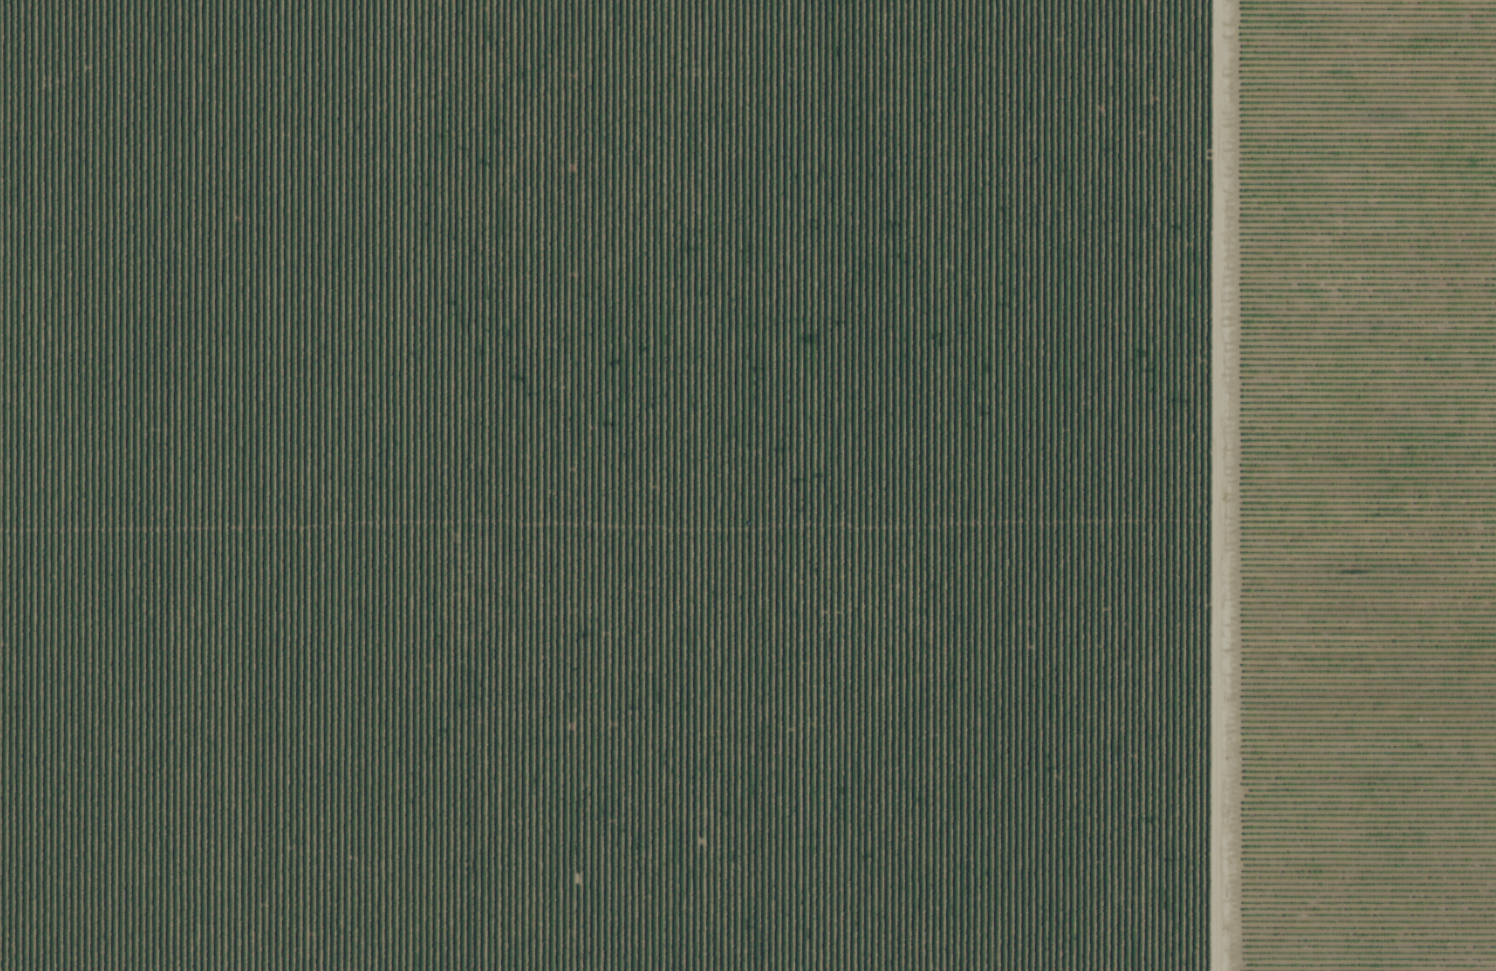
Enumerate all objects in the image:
crop: (748, 485)

